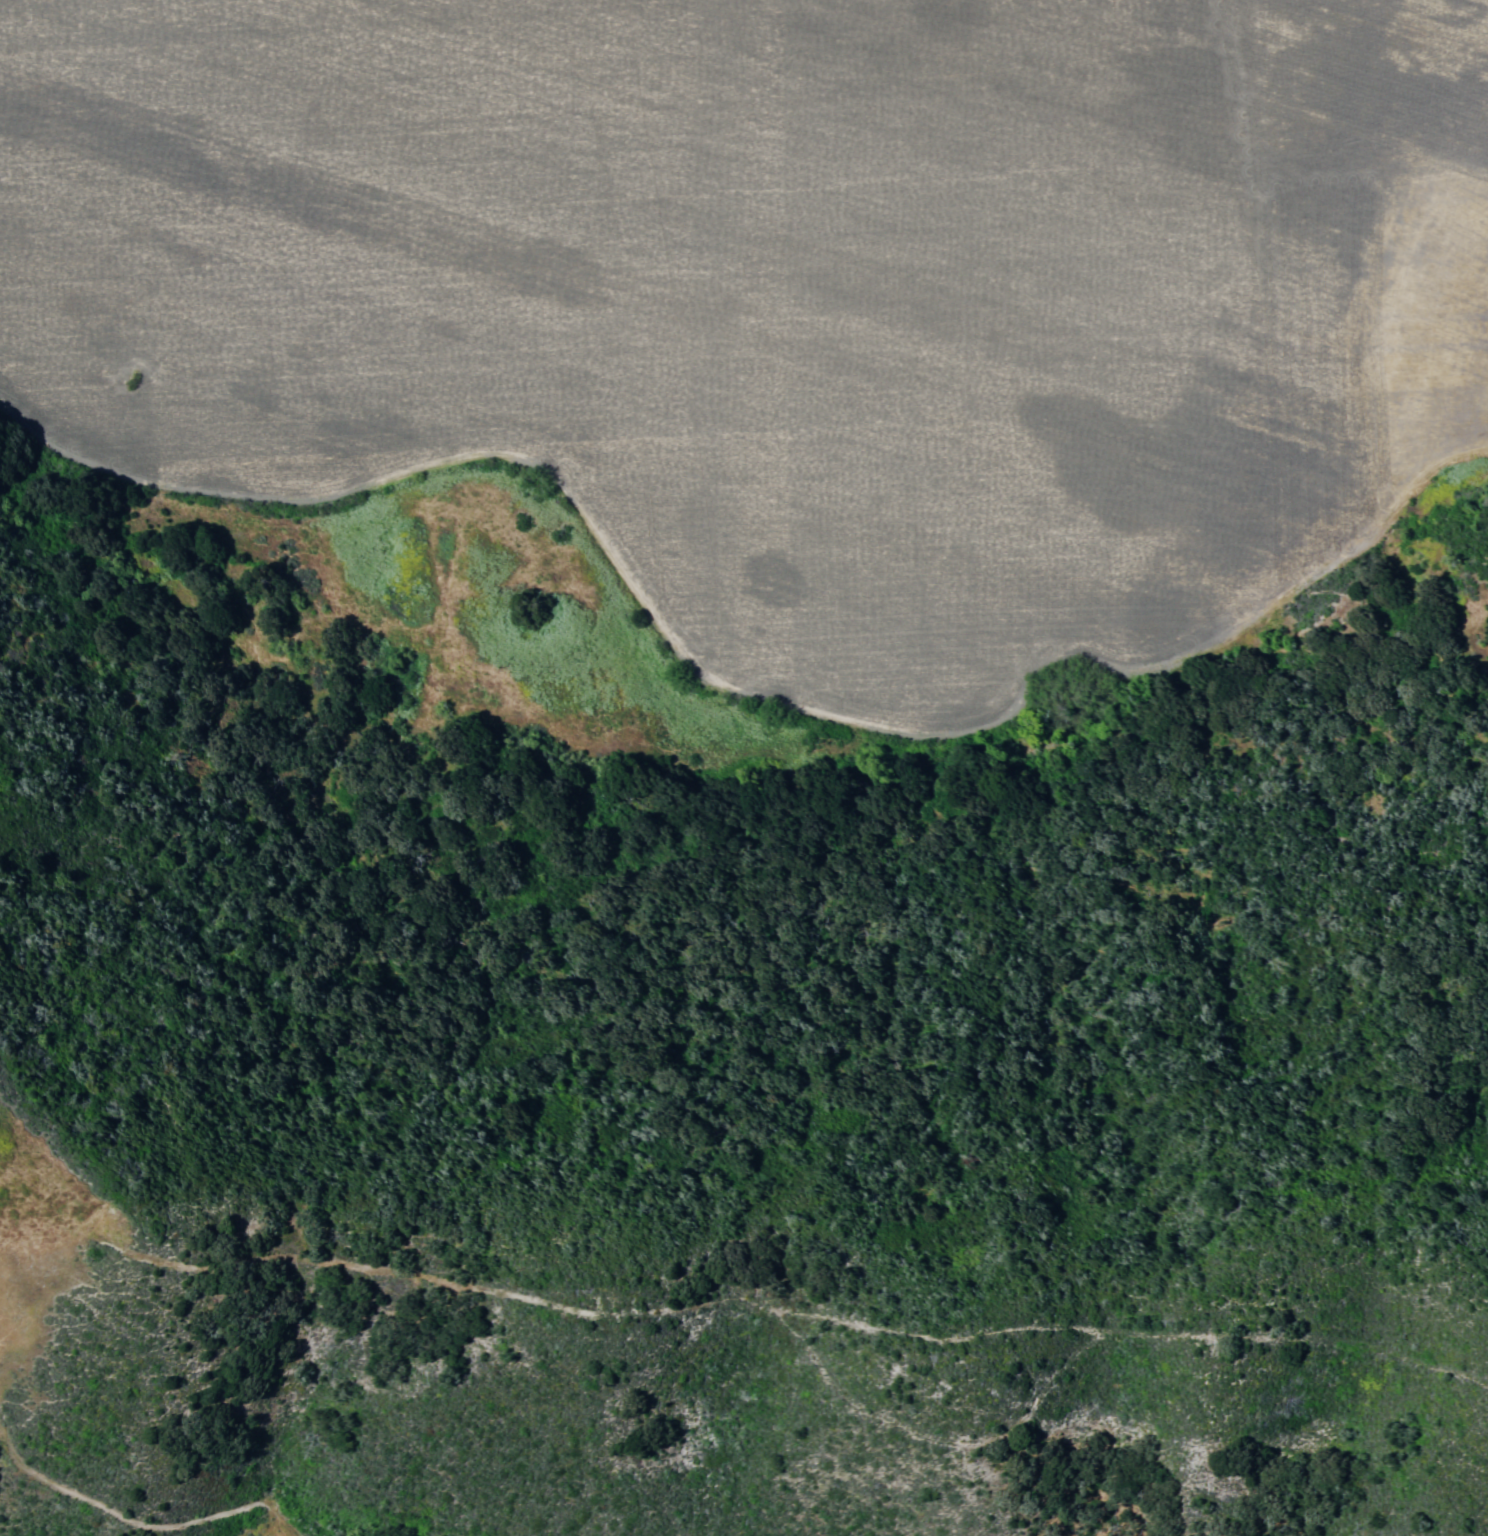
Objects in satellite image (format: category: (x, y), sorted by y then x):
crop: (767, 296)

